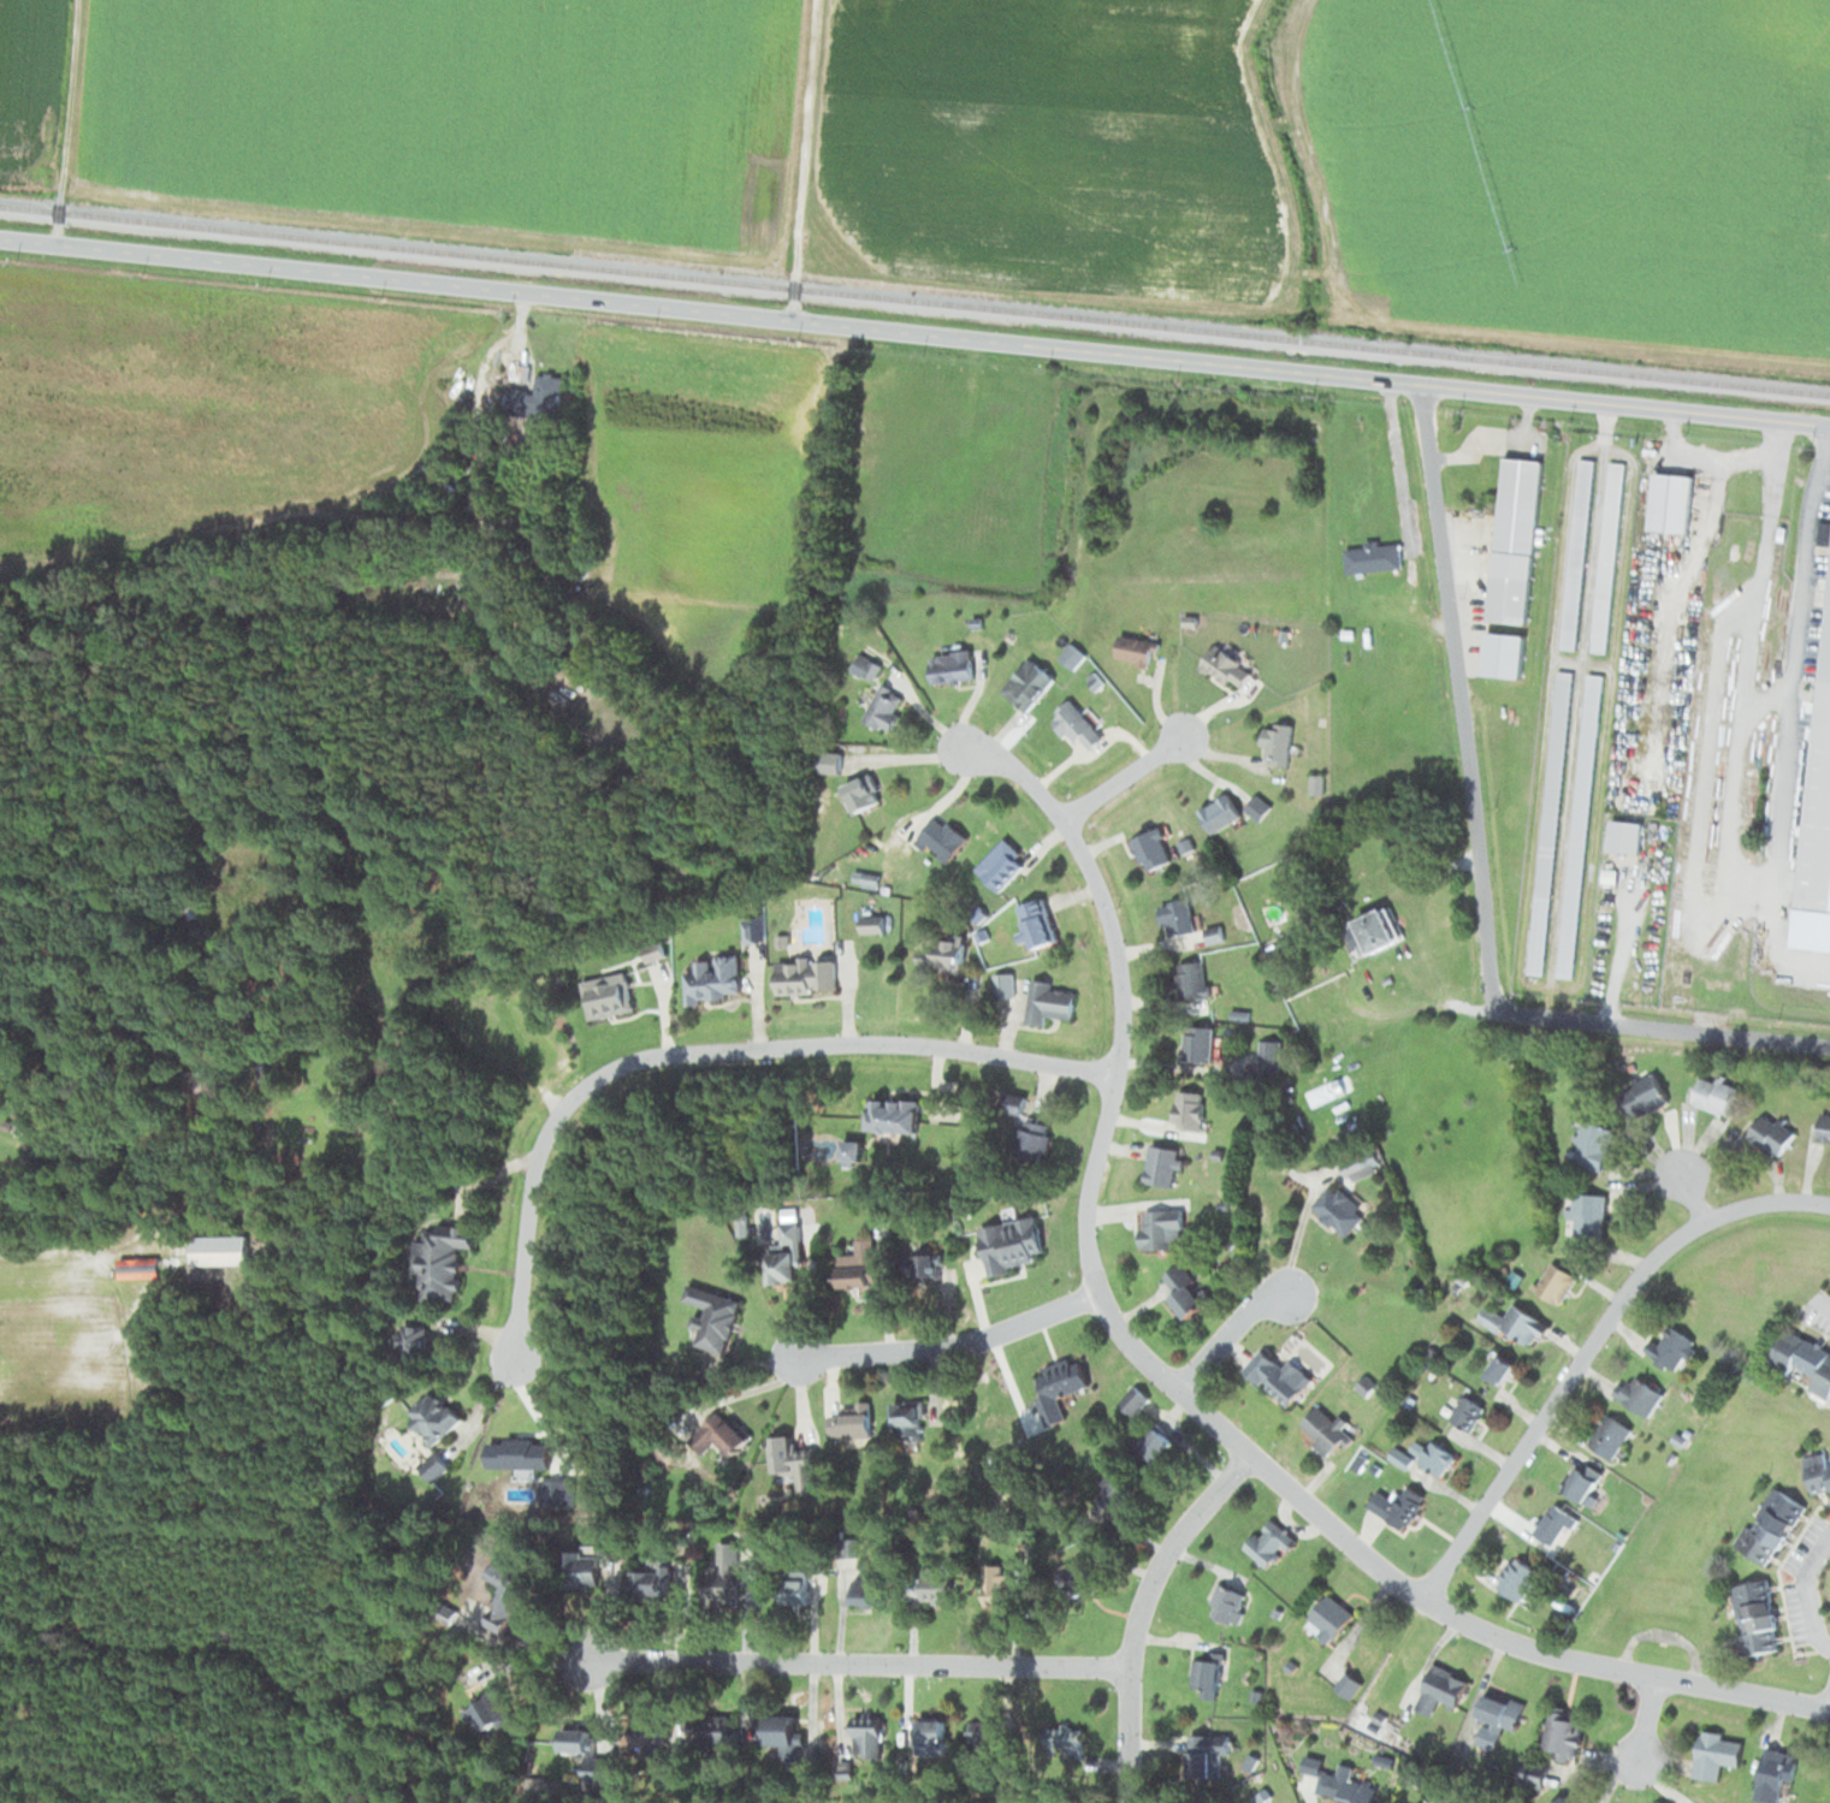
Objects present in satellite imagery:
road: (800, 158)
railway: (914, 301)
road: (914, 332)
building: (534, 398)
road: (1397, 468)
building: (1674, 504)
building: (1517, 508)
building: (1576, 552)
building: (1605, 554)
building: (1370, 556)
building: (1133, 648)
building: (1504, 656)
building: (949, 665)
building: (1222, 665)
building: (1025, 682)
road: (1453, 700)
road: (1790, 700)
building: (882, 707)
building: (1074, 724)
building: (1274, 740)
building: (827, 760)
building: (1819, 769)
road: (1121, 771)
building: (858, 791)
building: (1218, 812)
building: (1548, 828)
building: (1580, 830)
building: (1622, 835)
building: (940, 836)
building: (1149, 848)
road: (757, 859)
building: (1000, 864)
building: (1171, 917)
building: (1036, 921)
building: (870, 923)
building: (1370, 932)
building: (946, 951)
building: (804, 975)
building: (712, 978)
building: (1191, 981)
building: (605, 995)
building: (1047, 1002)
road: (1659, 1030)
building: (1196, 1043)
road: (694, 1049)
building: (1267, 1051)
building: (193, 1083)
building: (1642, 1095)
building: (1712, 1095)
building: (1186, 1109)
building: (890, 1114)
building: (5, 1125)
building: (1823, 1126)
building: (1769, 1134)
building: (1029, 1138)
building: (1591, 1144)
building: (849, 1149)
building: (1160, 1164)
road: (1688, 1193)
building: (1006, 1209)
building: (1337, 1209)
building: (1583, 1212)
building: (1157, 1227)
building: (1009, 1242)
road: (96, 1245)
building: (217, 1249)
building: (784, 1255)
building: (442, 1258)
building: (854, 1264)
building: (922, 1265)
building: (1553, 1283)
building: (1180, 1293)
road: (1820, 1301)
building: (710, 1317)
building: (1514, 1323)
road: (1227, 1330)
building: (409, 1340)
road: (1587, 1344)
building: (1670, 1347)
road: (944, 1348)
building: (1802, 1360)
building: (1498, 1368)
building: (1275, 1375)
building: (1056, 1387)
road: (1178, 1388)
building: (1637, 1394)
building: (1129, 1396)
building: (1465, 1411)
building: (431, 1416)
building: (905, 1418)
building: (849, 1422)
building: (1323, 1429)
building: (722, 1433)
building: (1607, 1436)
building: (1153, 1445)
building: (1429, 1454)
building: (793, 1461)
building: (1818, 1471)
building: (1580, 1481)
building: (1112, 1494)
building: (1394, 1504)
building: (1553, 1525)
building: (1769, 1525)
building: (1267, 1543)
building: (579, 1570)
building: (1515, 1578)
building: (647, 1583)
building: (716, 1583)
building: (995, 1584)
building: (935, 1586)
building: (799, 1588)
building: (866, 1588)
road: (1806, 1593)
building: (502, 1600)
building: (1226, 1603)
road: (1141, 1608)
building: (1751, 1617)
building: (1327, 1620)
road: (857, 1660)
building: (1203, 1677)
building: (1440, 1689)
building: (480, 1701)
building: (1494, 1719)
building: (777, 1730)
building: (713, 1731)
building: (984, 1731)
road: (1642, 1731)
building: (929, 1732)
building: (1562, 1734)
building: (647, 1737)
building: (865, 1738)
building: (1062, 1738)
building: (571, 1742)
building: (1714, 1754)
building: (1203, 1755)
building: (1532, 1773)
building: (1772, 1775)
building: (1343, 1790)
building: (1559, 1799)
building: (1417, 1802)

